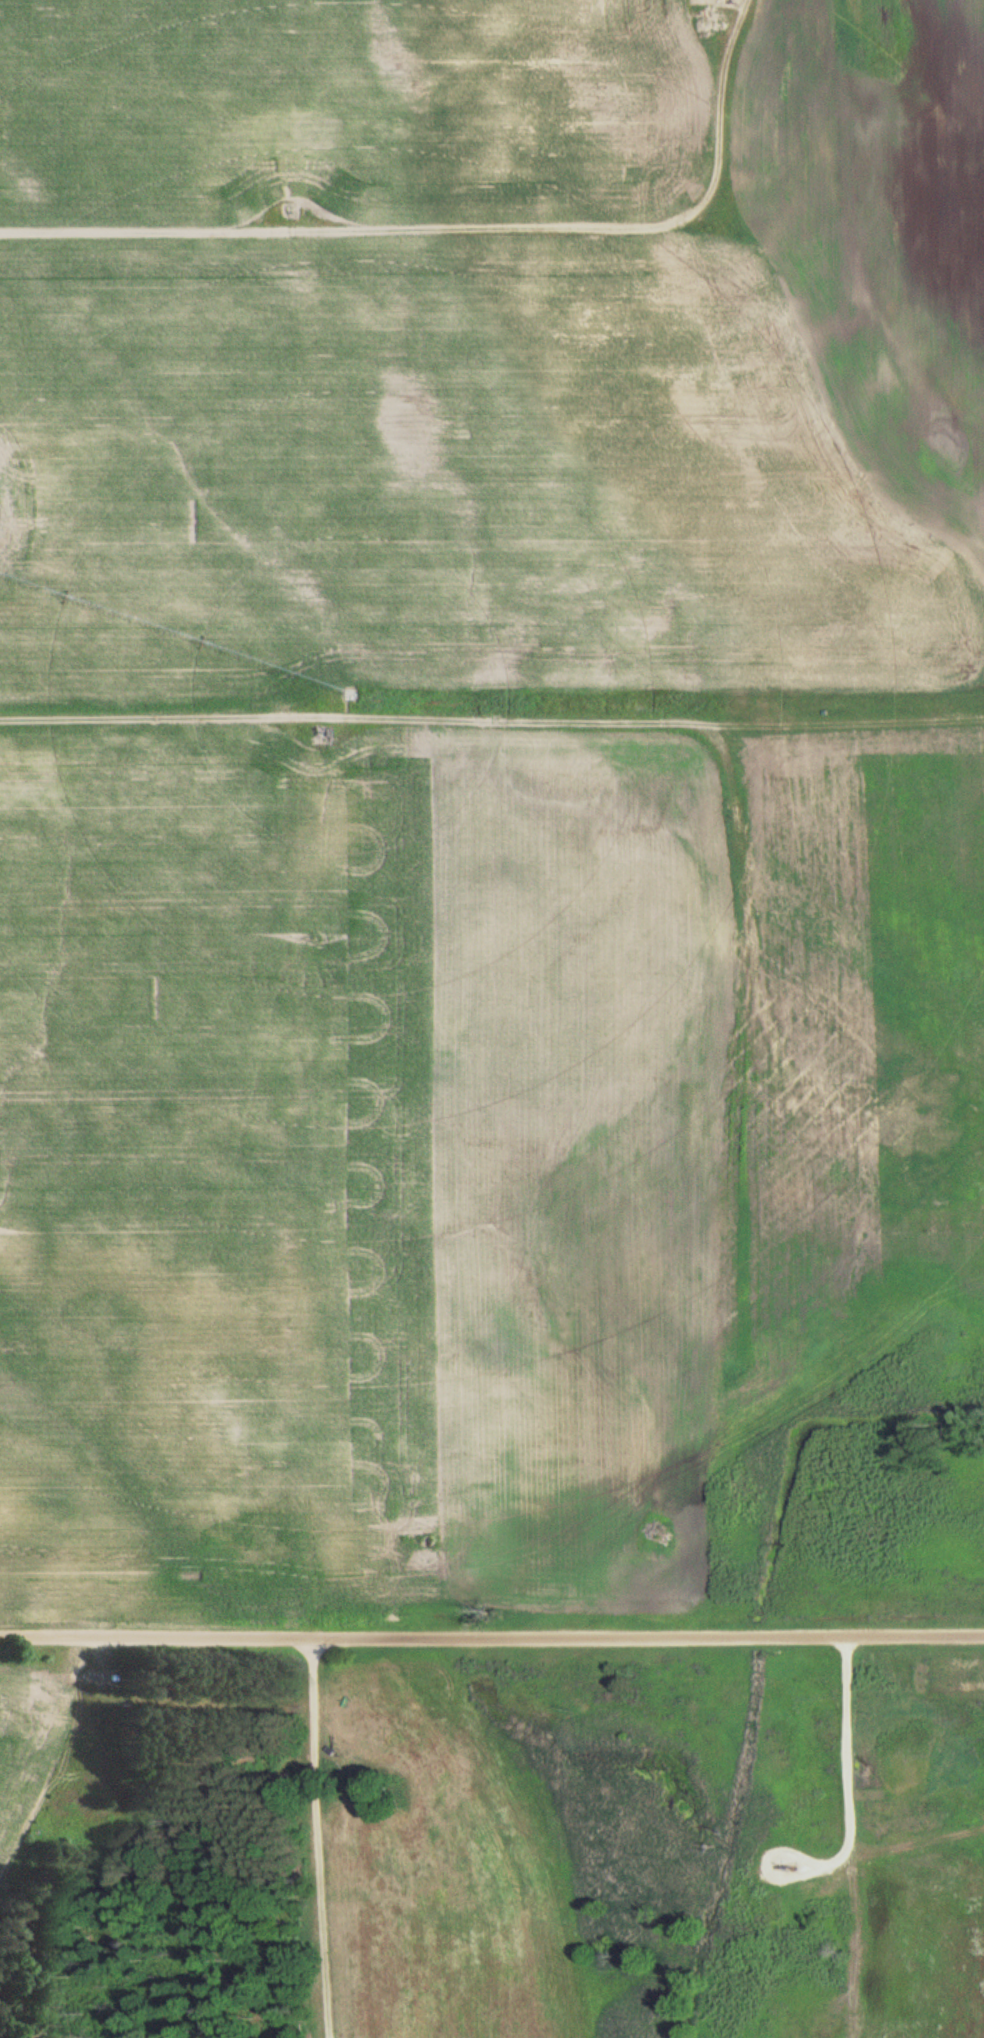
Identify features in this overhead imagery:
road: (471, 242)
road: (490, 739)
road: (720, 858)
road: (647, 1639)
road: (155, 1640)
road: (847, 1767)
road: (313, 1838)
petroleum well: (787, 1865)

